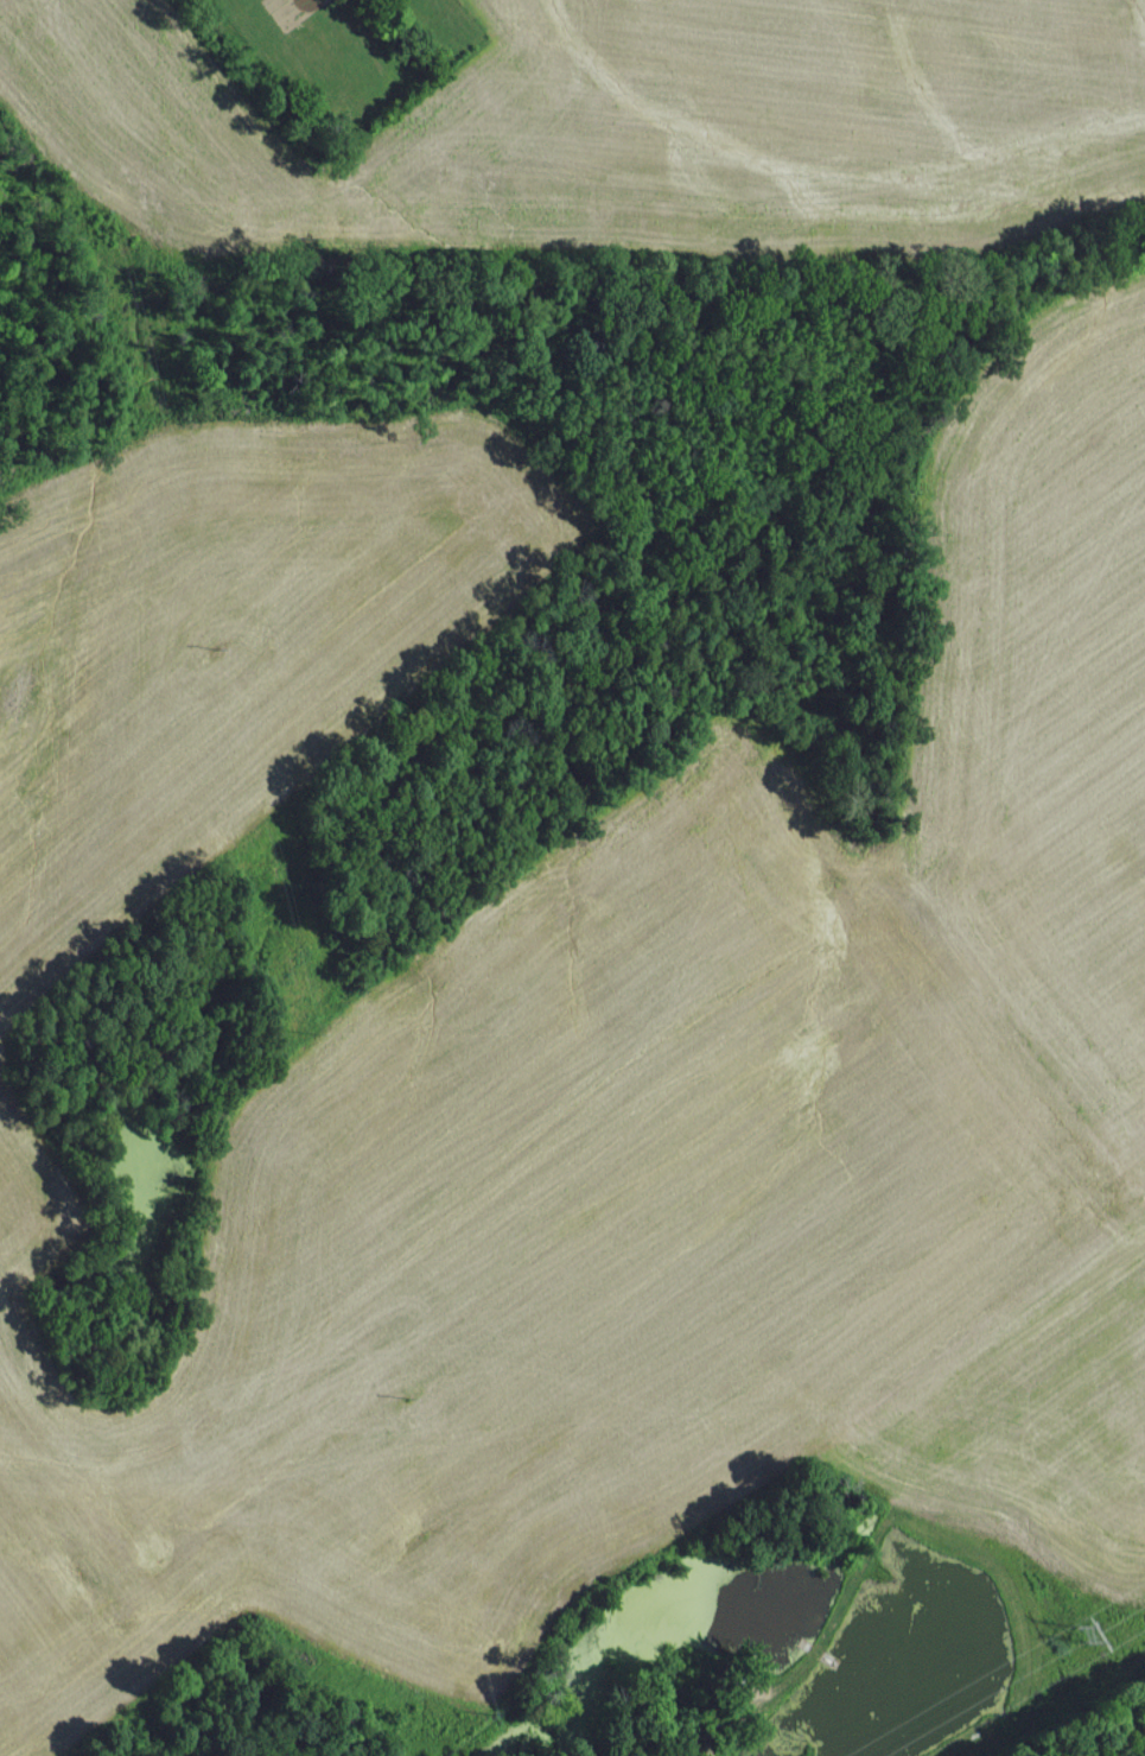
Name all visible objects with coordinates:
power tower: (1082, 1641)

